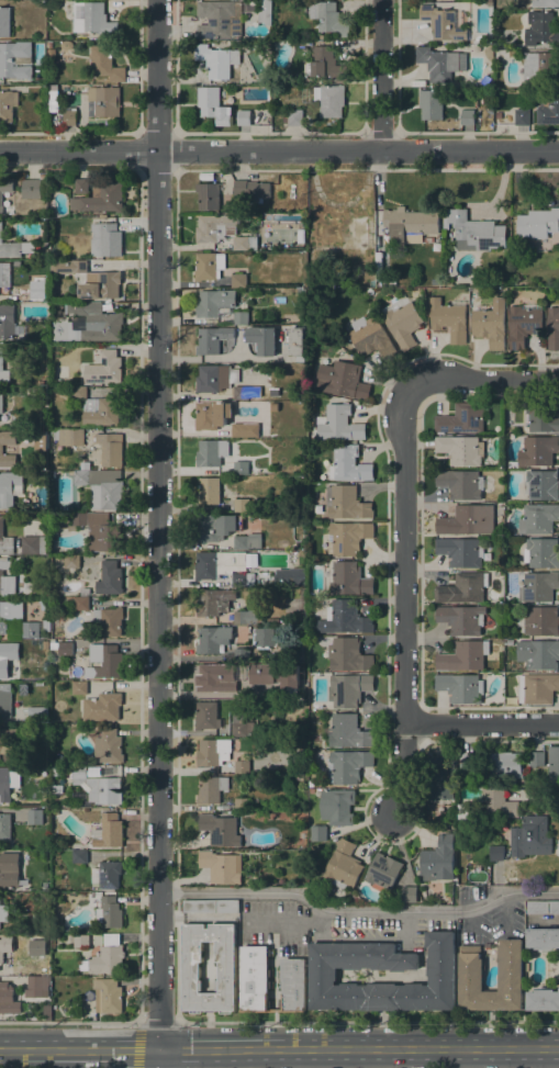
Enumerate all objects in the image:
building: (488, 0)
building: (545, 3)
building: (265, 12)
building: (90, 18)
building: (328, 18)
building: (219, 19)
building: (491, 19)
building: (4, 22)
building: (444, 23)
building: (540, 29)
building: (49, 44)
building: (67, 45)
building: (15, 59)
building: (216, 60)
building: (104, 63)
building: (440, 63)
building: (325, 64)
building: (541, 67)
building: (37, 75)
road: (380, 75)
building: (485, 80)
building: (53, 88)
building: (105, 100)
building: (329, 100)
building: (431, 104)
building: (8, 105)
building: (213, 105)
building: (548, 111)
building: (499, 115)
building: (69, 117)
building: (244, 117)
building: (293, 117)
building: (468, 117)
building: (522, 117)
road: (279, 150)
building: (81, 186)
building: (31, 189)
building: (253, 190)
building: (208, 195)
building: (1, 198)
building: (101, 199)
building: (538, 223)
building: (410, 225)
building: (214, 227)
building: (337, 229)
building: (474, 232)
building: (105, 239)
building: (245, 244)
building: (14, 247)
building: (209, 266)
building: (69, 267)
building: (4, 279)
building: (238, 280)
building: (367, 281)
building: (101, 286)
building: (40, 290)
building: (213, 305)
building: (241, 317)
building: (302, 317)
building: (449, 318)
building: (9, 322)
building: (402, 322)
building: (524, 324)
building: (489, 325)
building: (89, 326)
building: (554, 328)
building: (371, 337)
building: (212, 339)
building: (262, 339)
building: (297, 342)
building: (1, 359)
building: (104, 369)
building: (60, 372)
building: (216, 378)
building: (342, 380)
road: (482, 381)
building: (244, 393)
building: (1, 401)
building: (98, 408)
building: (212, 415)
building: (541, 417)
building: (463, 418)
building: (338, 424)
building: (245, 430)
building: (69, 437)
building: (1, 449)
building: (110, 449)
building: (460, 449)
building: (538, 451)
building: (211, 452)
building: (349, 464)
building: (241, 468)
building: (460, 483)
building: (541, 485)
building: (100, 486)
building: (9, 487)
building: (209, 491)
building: (347, 503)
building: (242, 505)
building: (317, 509)
building: (538, 518)
building: (467, 520)
building: (216, 527)
building: (93, 529)
road: (157, 533)
building: (348, 537)
building: (5, 541)
building: (246, 541)
building: (33, 544)
building: (460, 552)
building: (541, 552)
building: (71, 562)
building: (222, 567)
building: (109, 576)
building: (290, 576)
building: (348, 578)
building: (7, 580)
building: (538, 586)
building: (462, 588)
road: (406, 598)
building: (213, 602)
building: (81, 603)
building: (42, 605)
building: (241, 617)
building: (344, 618)
building: (461, 619)
building: (108, 621)
building: (541, 621)
building: (15, 622)
building: (46, 625)
building: (262, 638)
building: (213, 639)
building: (53, 642)
building: (45, 645)
building: (65, 648)
building: (242, 654)
building: (538, 654)
building: (347, 655)
building: (463, 656)
building: (4, 662)
building: (104, 662)
building: (213, 676)
building: (38, 684)
building: (460, 687)
building: (537, 687)
building: (79, 688)
building: (348, 689)
building: (250, 692)
building: (5, 700)
building: (102, 707)
building: (36, 713)
building: (206, 716)
road: (483, 722)
building: (239, 726)
building: (346, 731)
building: (7, 742)
building: (108, 747)
building: (213, 752)
building: (536, 758)
building: (469, 760)
building: (554, 764)
building: (242, 765)
building: (504, 765)
building: (347, 766)
building: (56, 768)
building: (441, 779)
building: (8, 783)
building: (98, 786)
building: (57, 788)
building: (211, 789)
building: (290, 801)
building: (242, 805)
building: (494, 805)
building: (337, 807)
building: (461, 811)
building: (35, 817)
building: (5, 827)
building: (220, 830)
building: (110, 831)
building: (318, 833)
building: (529, 837)
building: (496, 853)
building: (79, 856)
building: (438, 859)
building: (343, 865)
building: (221, 867)
building: (9, 869)
building: (382, 872)
building: (107, 874)
building: (409, 895)
building: (358, 898)
building: (210, 907)
building: (541, 907)
road: (358, 911)
road: (505, 912)
building: (109, 913)
road: (317, 917)
road: (470, 919)
road: (280, 922)
road: (405, 924)
road: (317, 932)
road: (361, 938)
building: (543, 938)
building: (81, 941)
building: (3, 947)
building: (105, 956)
road: (176, 957)
building: (191, 970)
building: (323, 970)
building: (254, 979)
building: (471, 980)
building: (37, 986)
building: (108, 996)
building: (8, 999)
building: (543, 1000)
road: (368, 1020)
road: (69, 1022)
road: (158, 1022)
road: (544, 1047)
road: (394, 1048)
road: (30, 1049)
road: (109, 1049)
road: (209, 1049)
road: (456, 1058)

